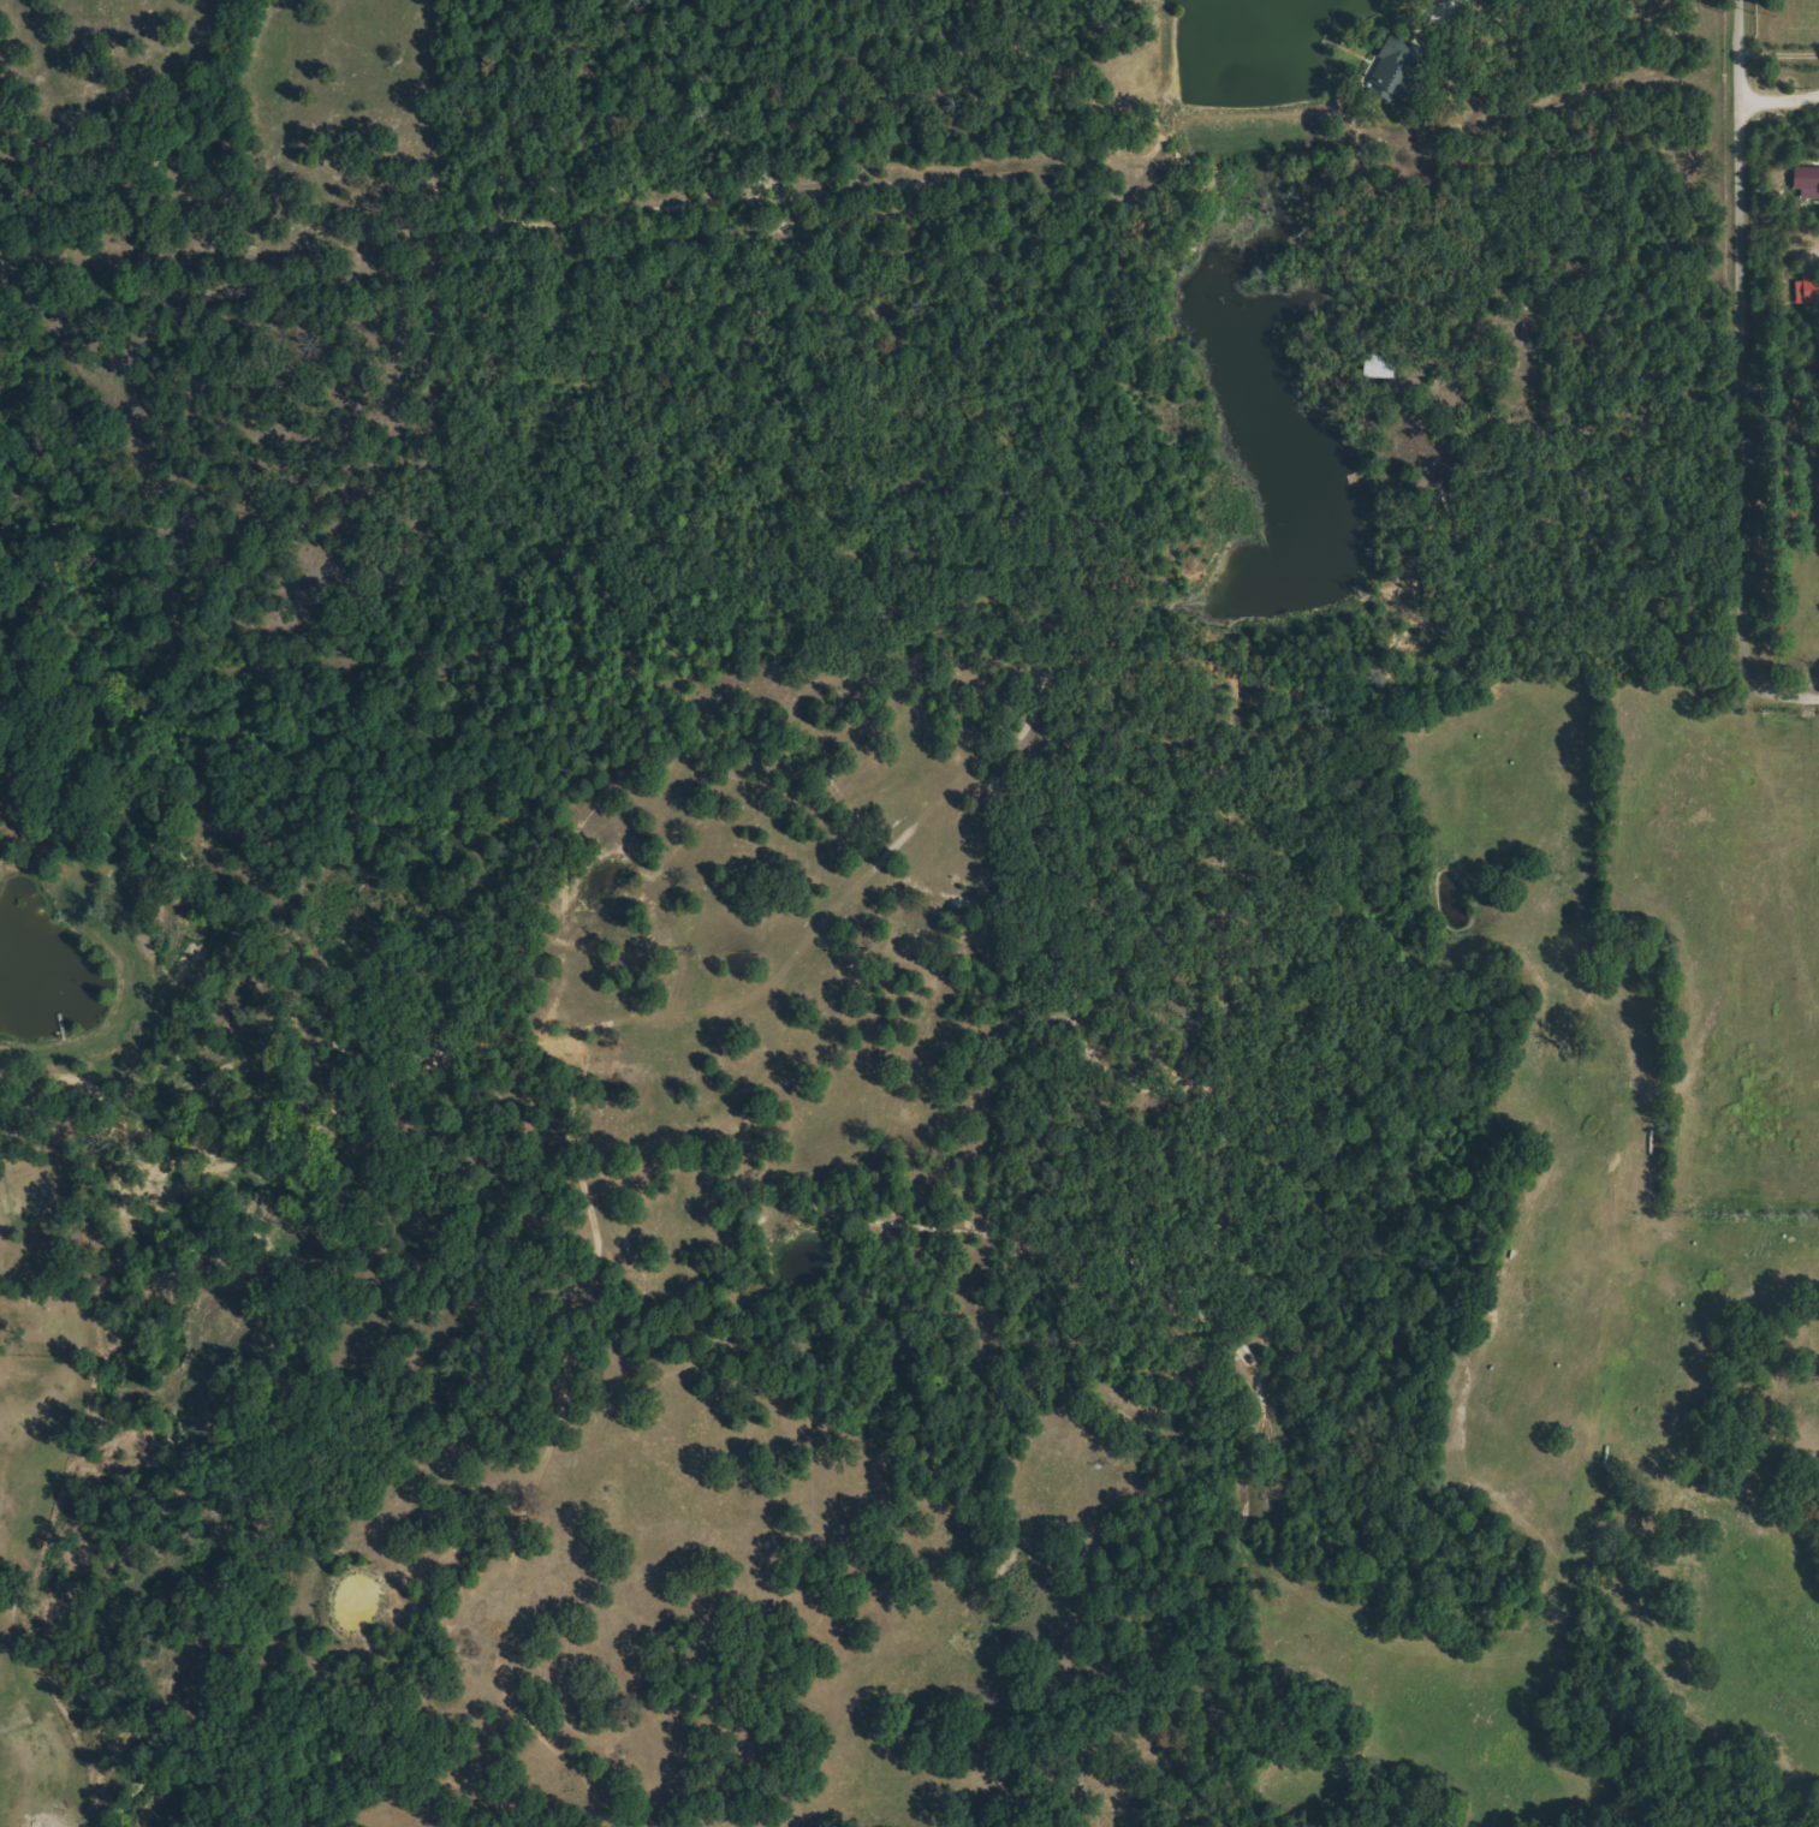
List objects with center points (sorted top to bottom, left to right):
road: (1473, 26)
building: (1384, 69)
road: (1779, 101)
building: (1386, 367)
road: (1740, 376)
road: (1770, 763)

